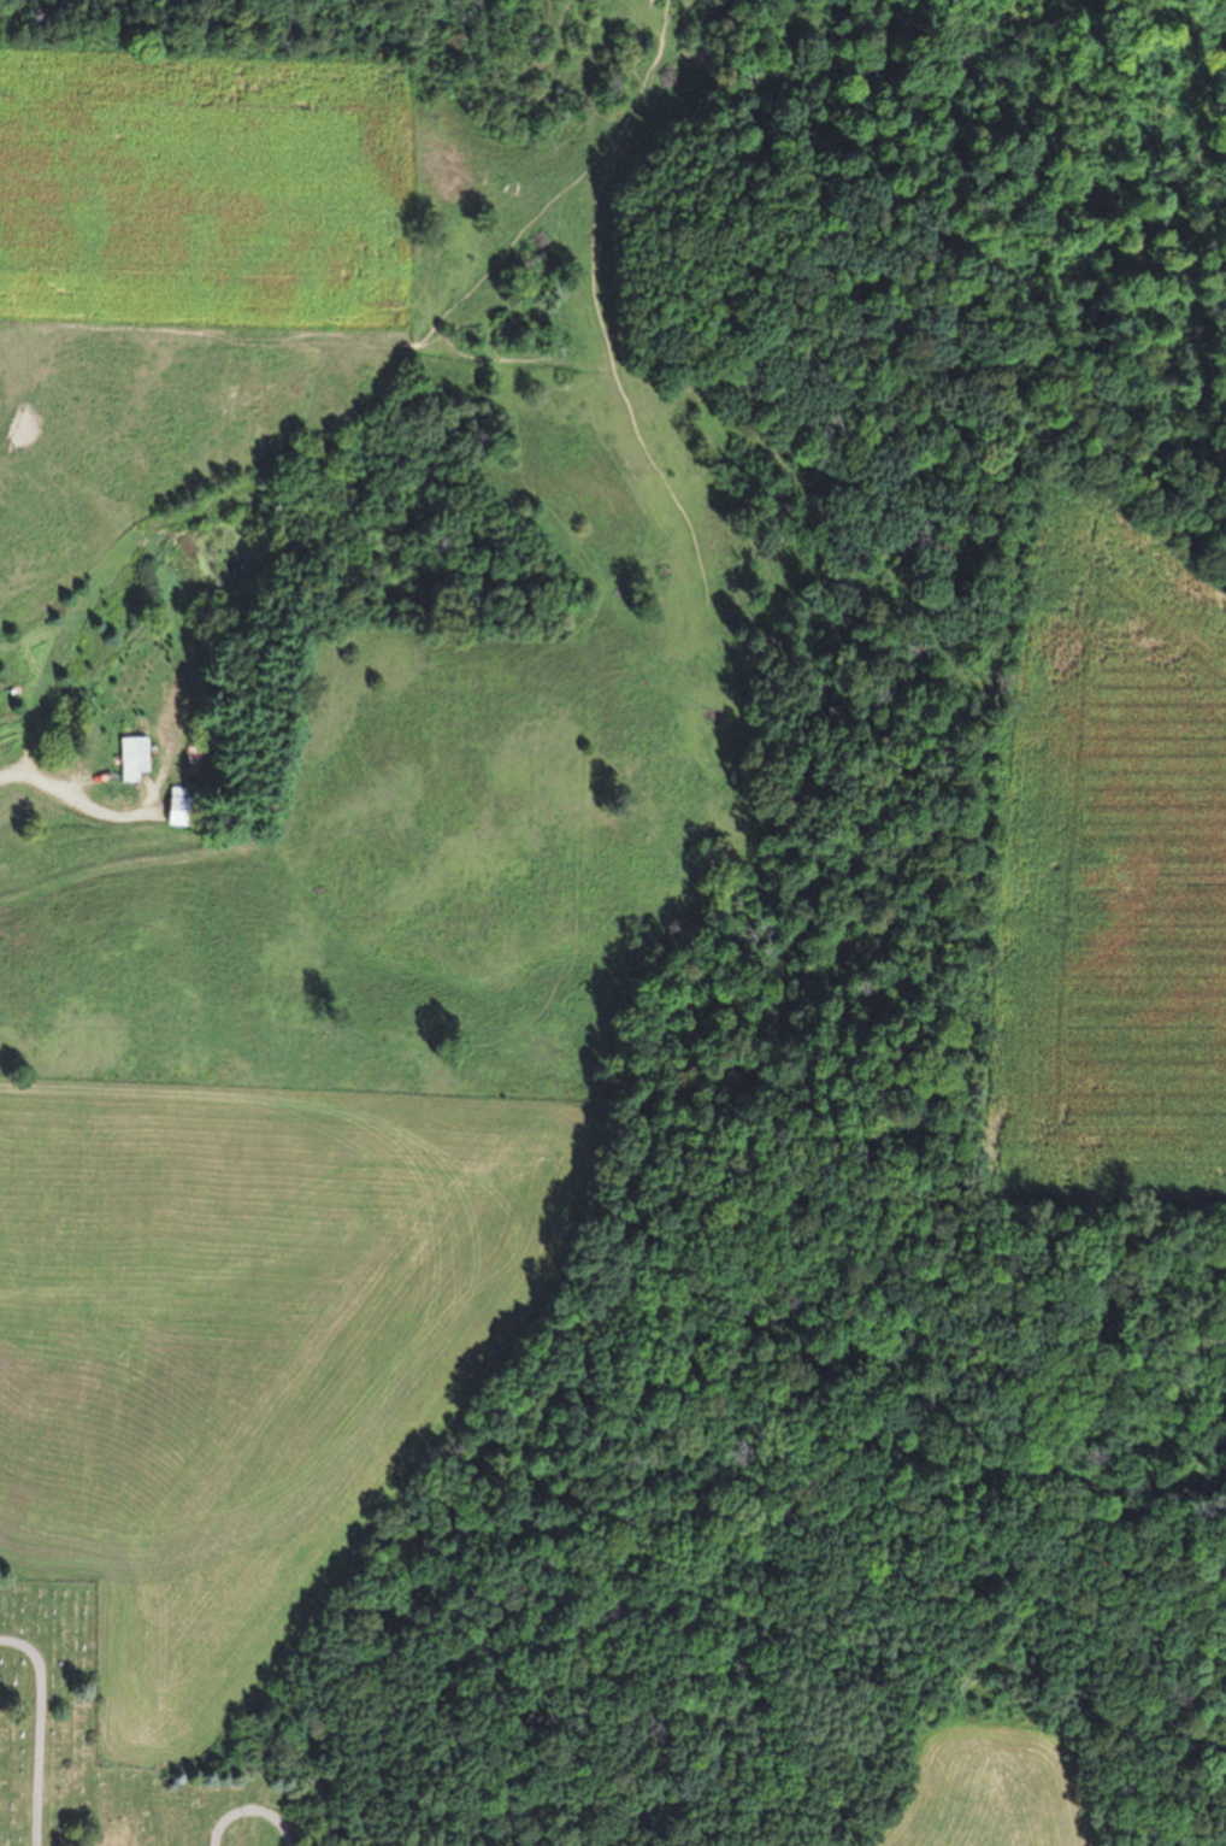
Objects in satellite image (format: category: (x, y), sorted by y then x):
building: (131, 751)
building: (179, 807)
park: (48, 1676)

